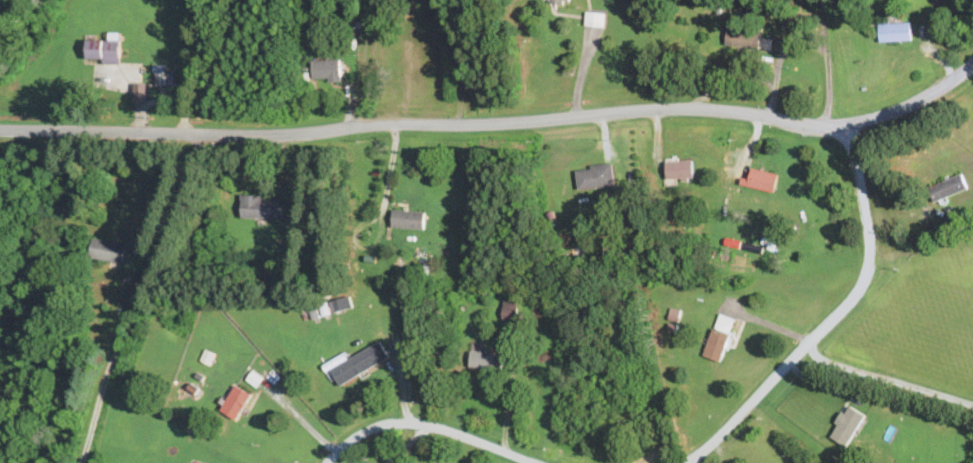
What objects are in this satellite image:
building: (555, 1)
building: (939, 2)
building: (594, 20)
building: (894, 33)
building: (749, 42)
building: (103, 51)
road: (461, 60)
building: (326, 71)
building: (162, 78)
road: (166, 101)
road: (500, 127)
building: (678, 170)
building: (594, 177)
building: (760, 180)
building: (946, 189)
building: (262, 208)
building: (407, 220)
building: (106, 251)
road: (142, 295)
building: (510, 308)
road: (830, 317)
building: (583, 327)
building: (718, 338)
building: (484, 360)
building: (352, 365)
road: (886, 378)
building: (234, 402)
road: (429, 419)
building: (839, 430)
road: (690, 461)

